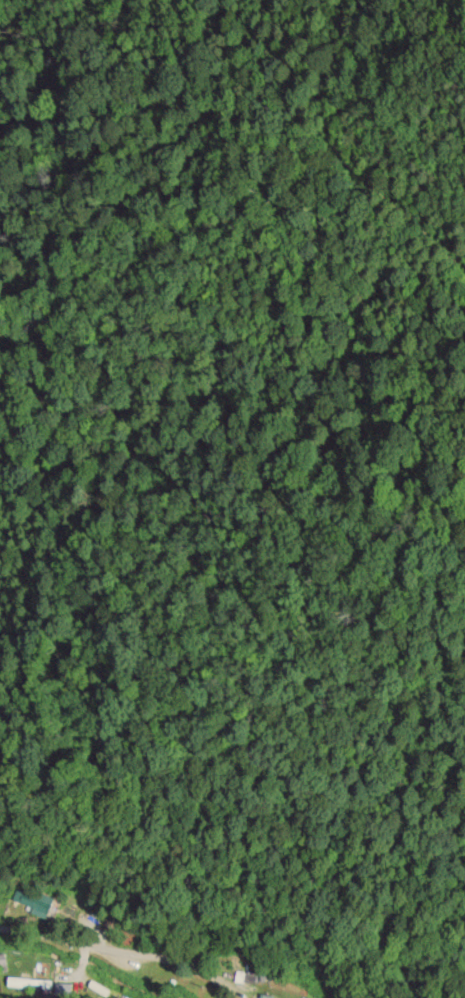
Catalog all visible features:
building: (34, 904)
road: (91, 945)
building: (28, 983)

